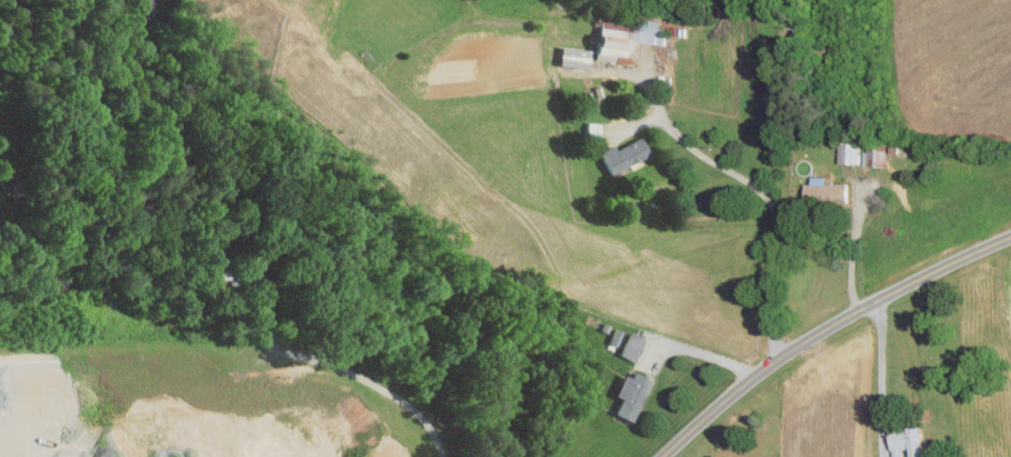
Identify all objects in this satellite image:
building: (630, 39)
building: (579, 58)
building: (596, 129)
building: (853, 153)
building: (627, 155)
building: (879, 156)
building: (829, 194)
road: (767, 201)
road: (851, 256)
road: (824, 329)
building: (616, 339)
building: (635, 347)
road: (705, 356)
road: (340, 367)
road: (881, 378)
building: (635, 395)
building: (911, 441)

